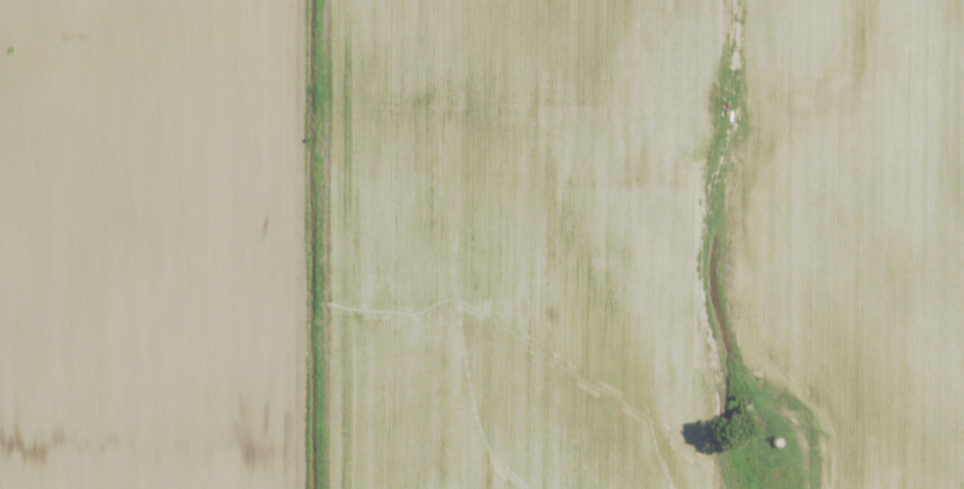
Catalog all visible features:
road: (799, 443)

